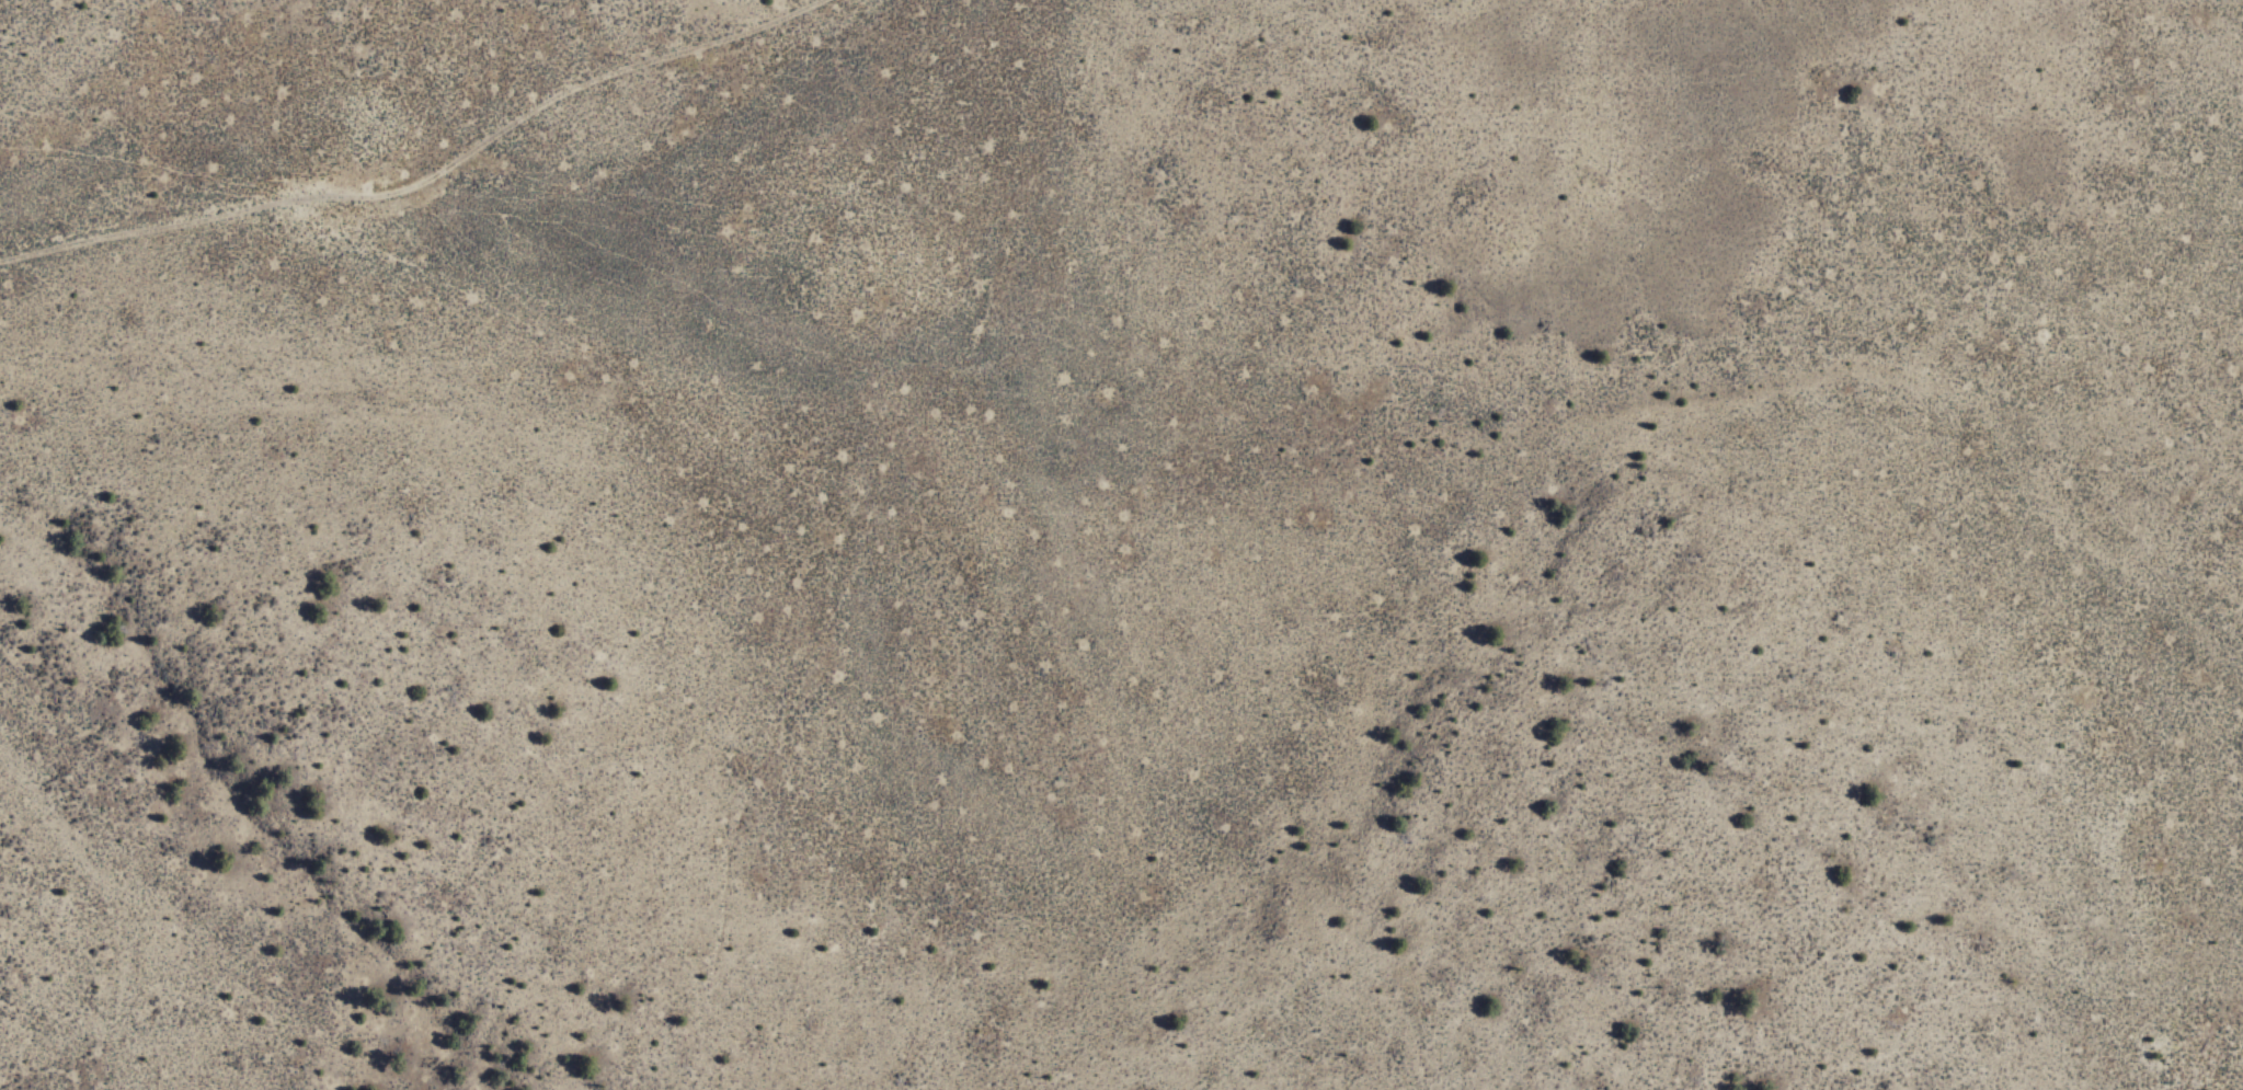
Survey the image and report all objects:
road: (483, 163)

